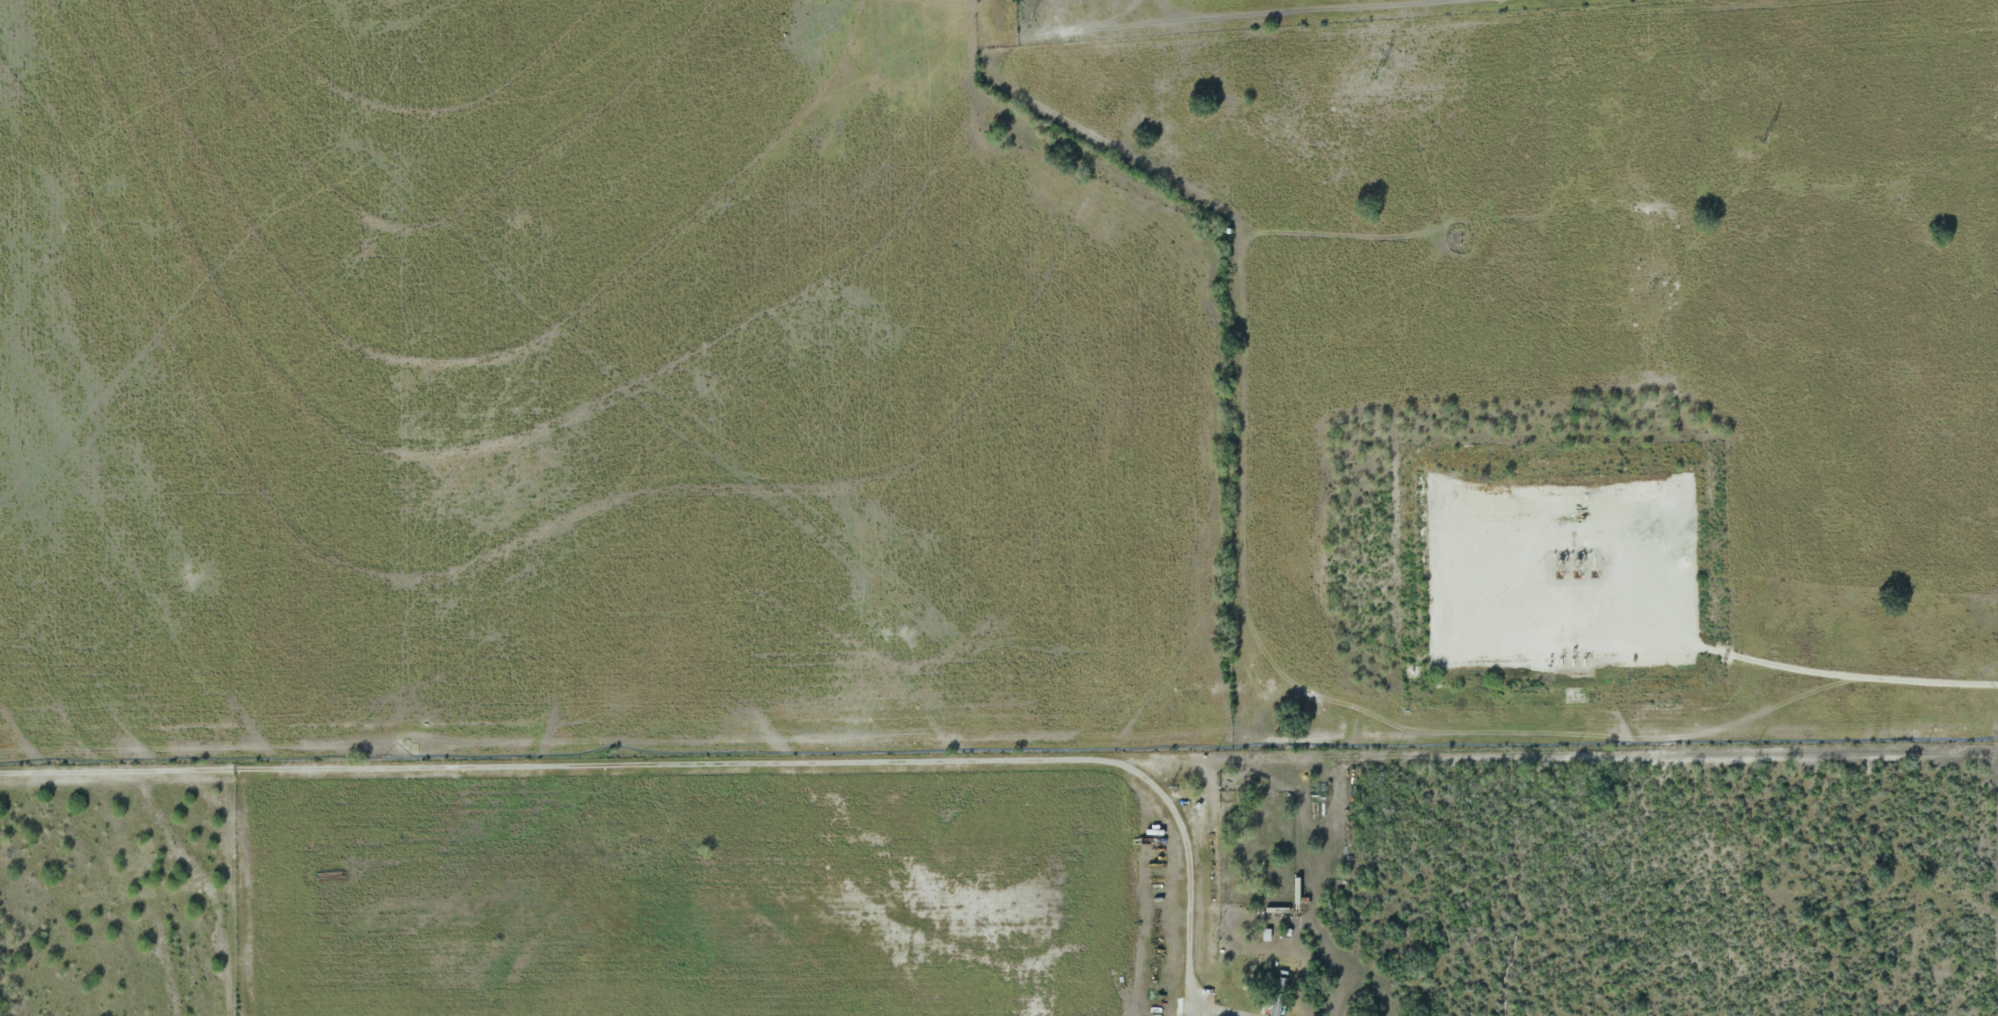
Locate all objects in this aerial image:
power tower: (1028, 18)
power tower: (1375, 75)
power tower: (1762, 141)
road: (689, 764)
building: (1276, 997)

